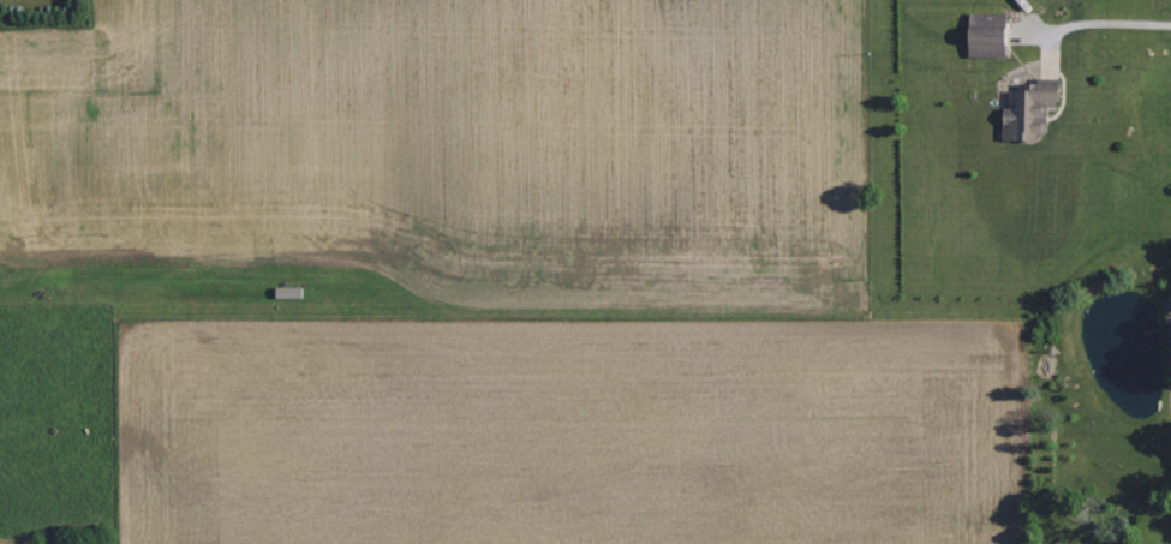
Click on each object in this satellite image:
road: (1094, 22)
building: (991, 35)
building: (1034, 109)
building: (291, 292)

